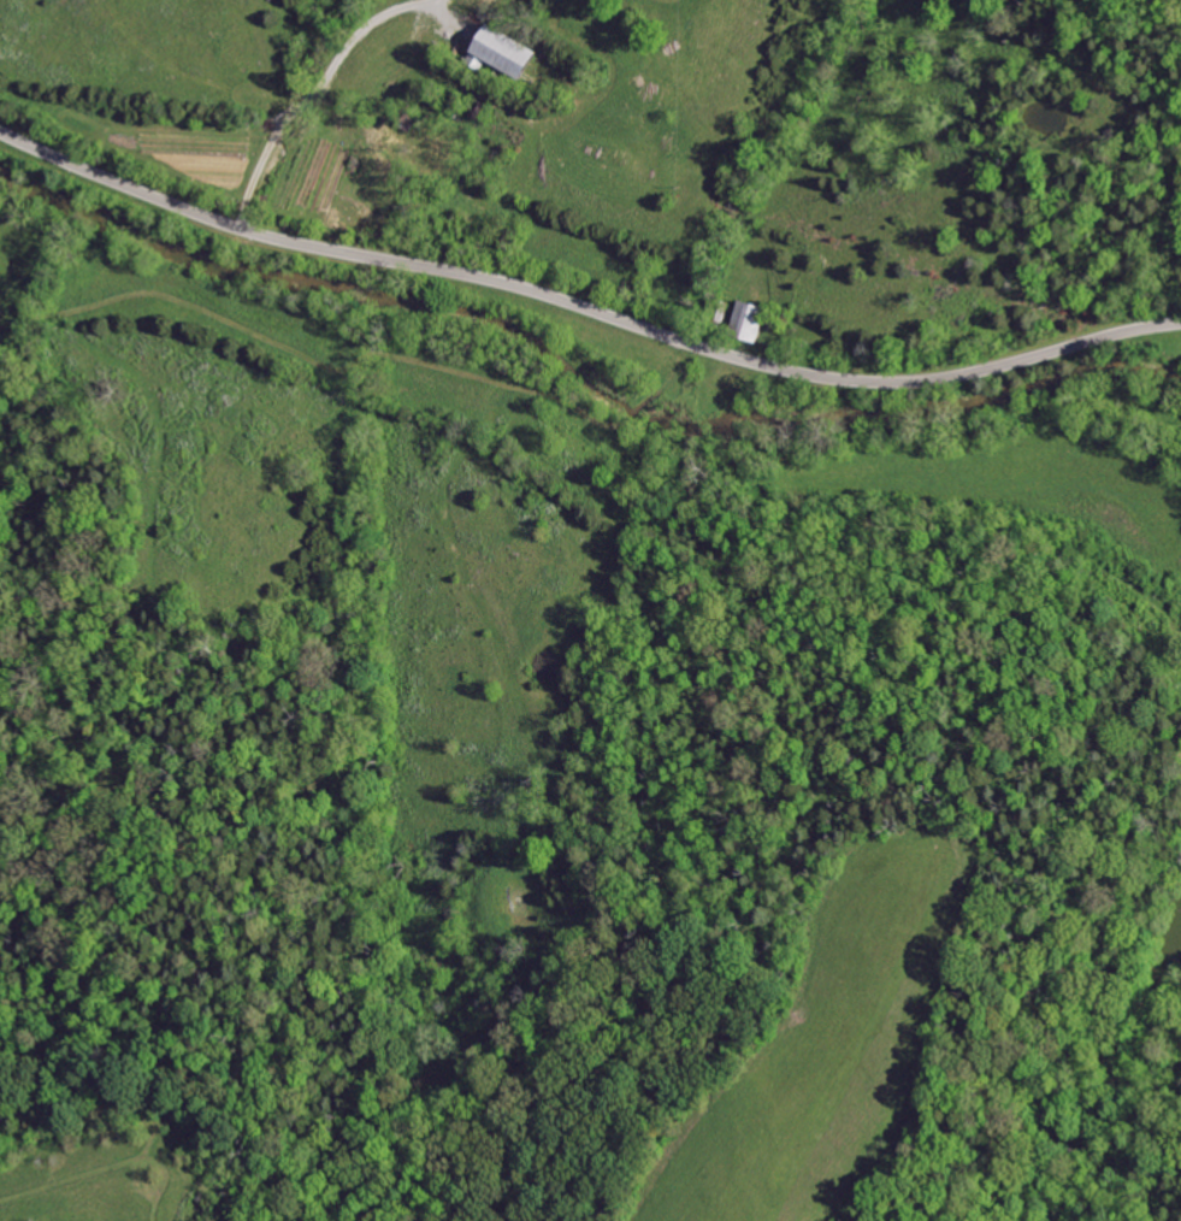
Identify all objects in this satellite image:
building: (508, 53)
road: (312, 95)
road: (584, 308)
building: (750, 319)

